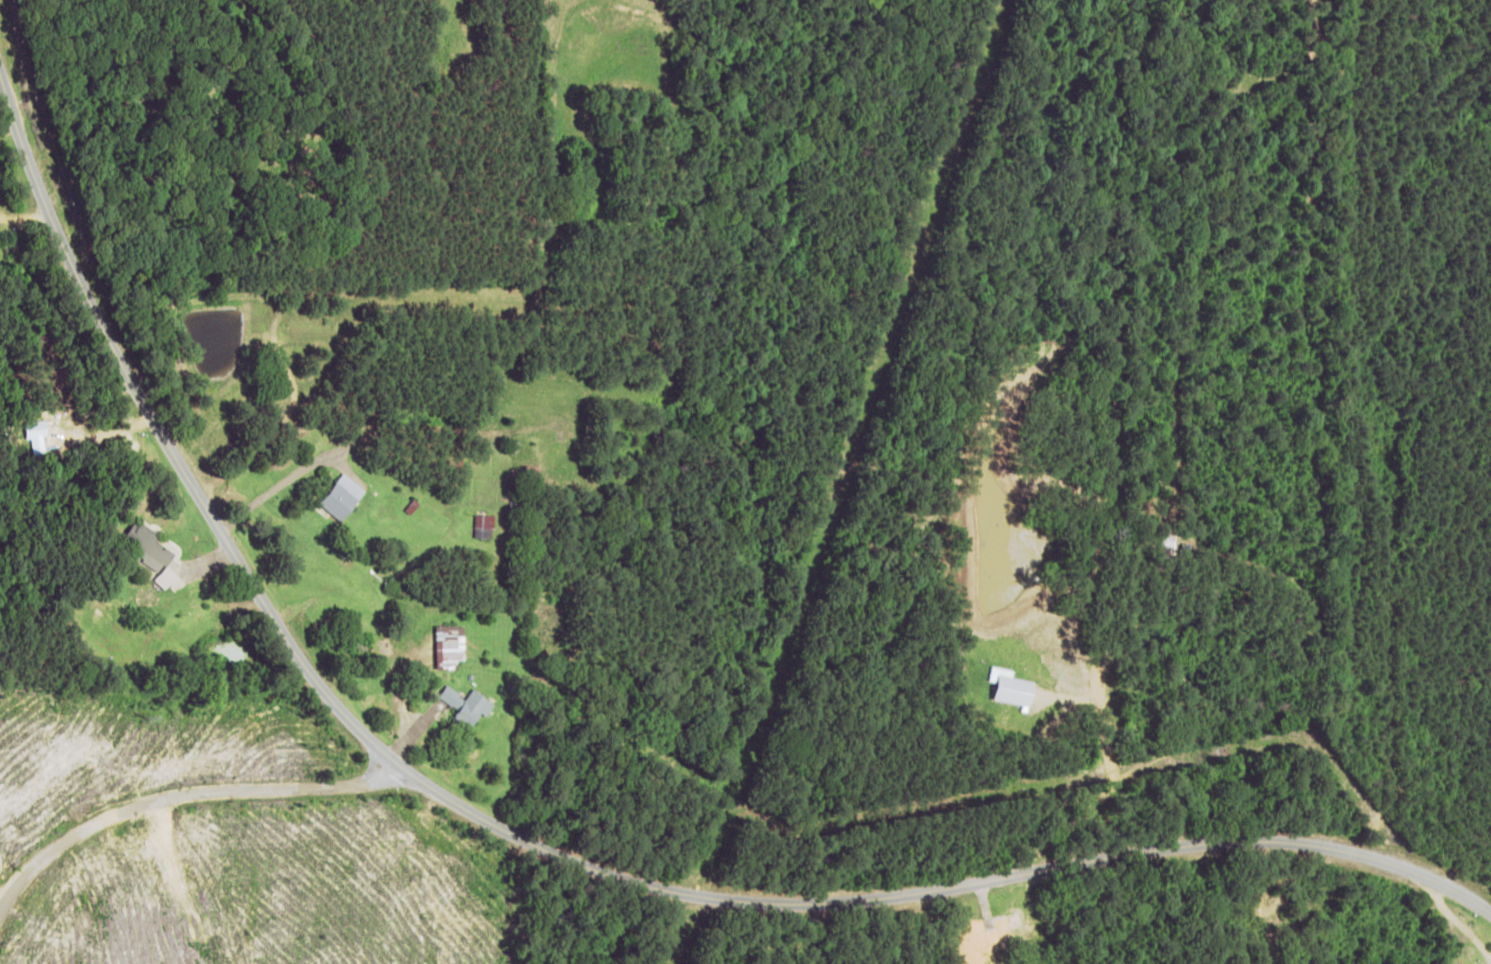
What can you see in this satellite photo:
road: (169, 458)
building: (339, 502)
building: (483, 524)
building: (152, 552)
building: (449, 645)
building: (1001, 687)
building: (450, 696)
building: (474, 707)
road: (181, 835)
road: (931, 924)

